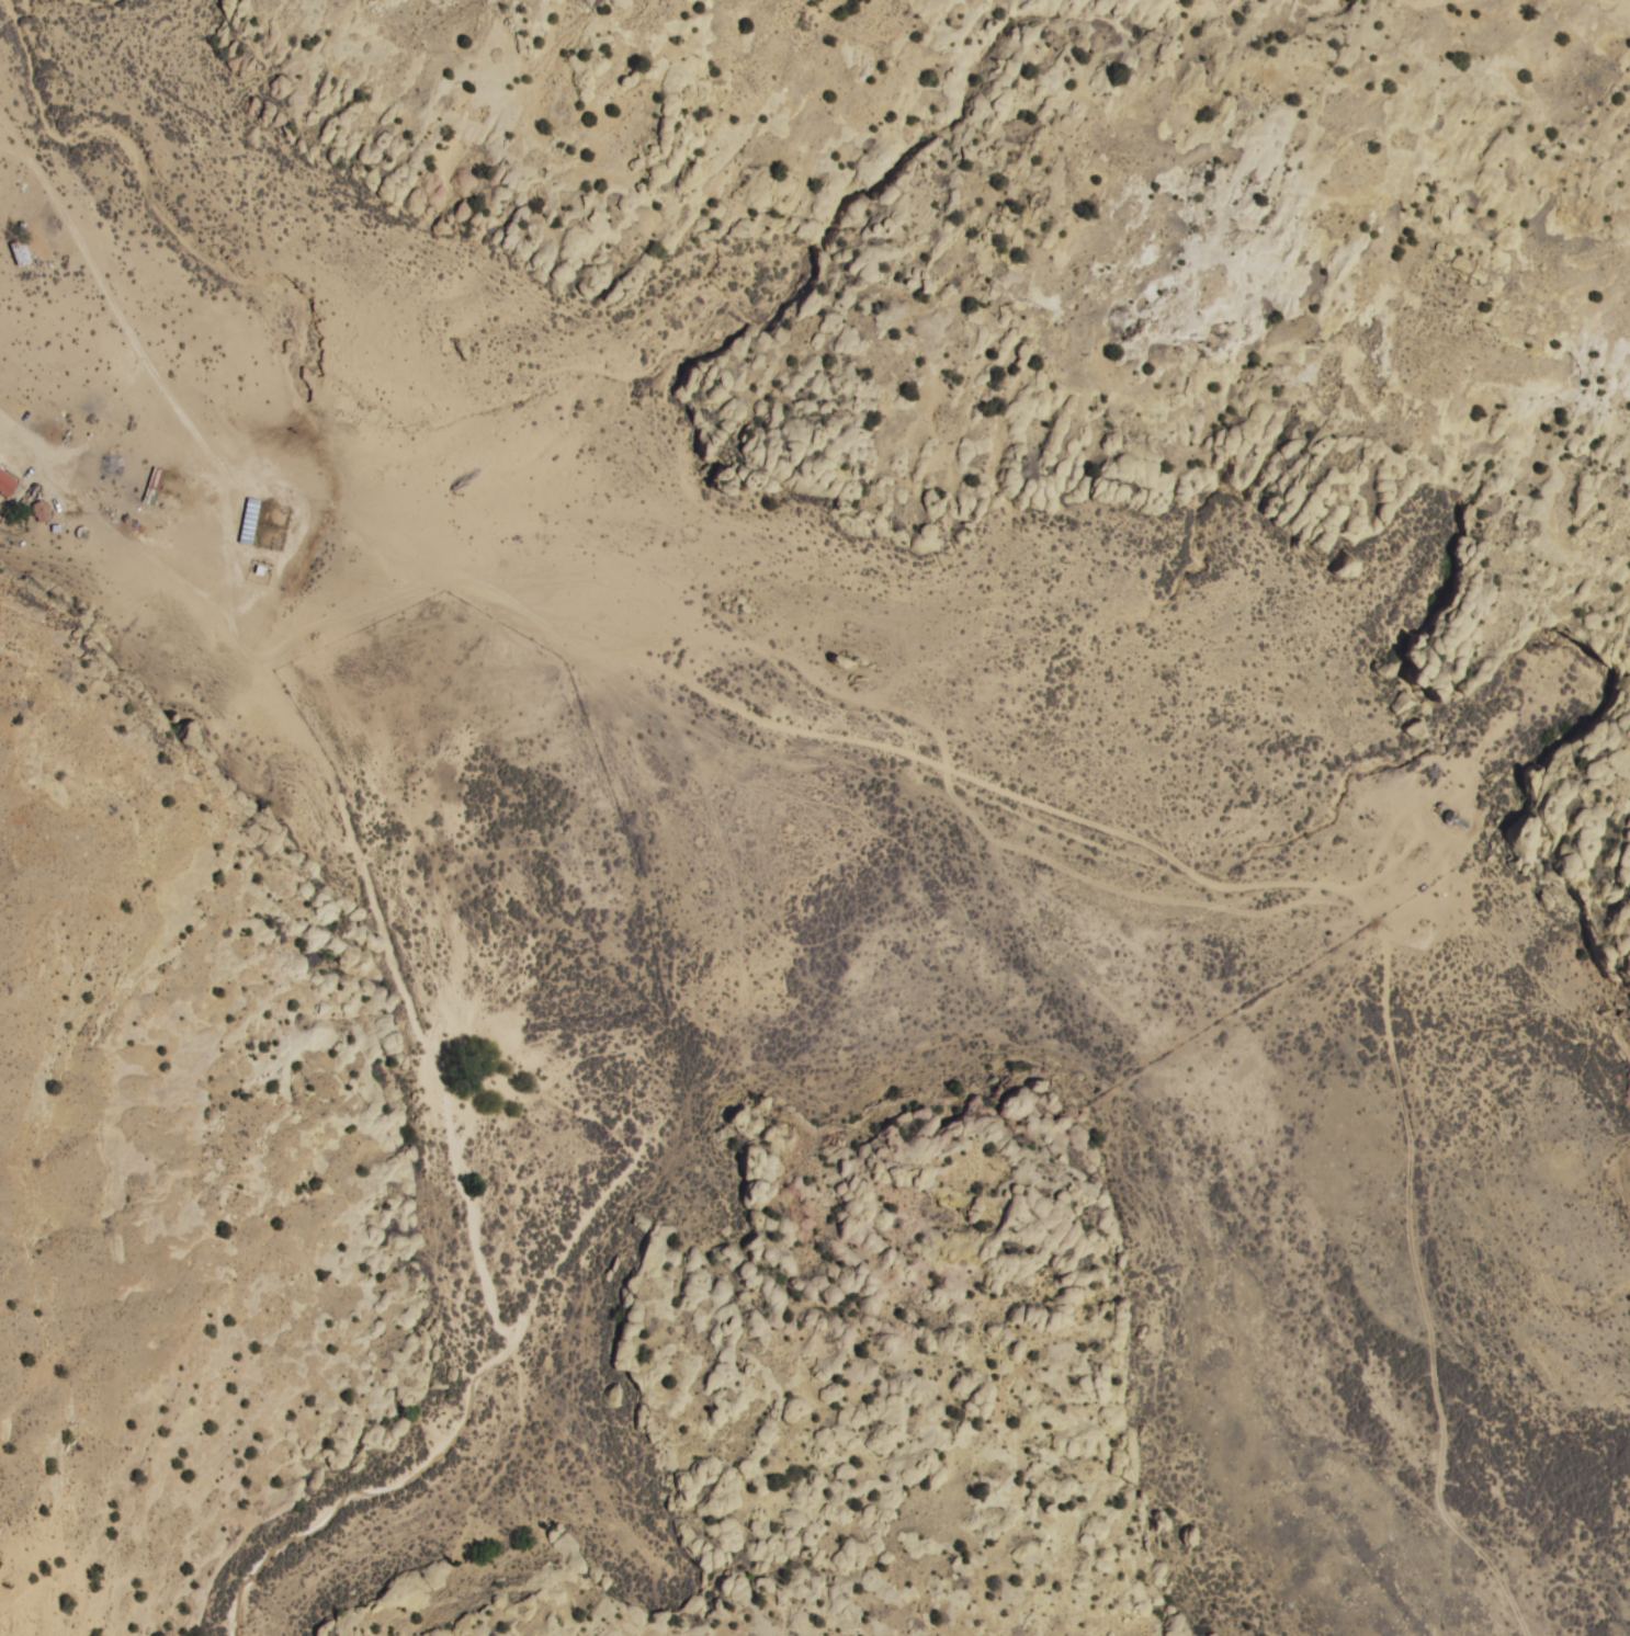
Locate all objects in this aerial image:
road: (1430, 109)
building: (5, 486)
building: (152, 487)
building: (247, 521)
road: (926, 770)
river: (857, 771)
road: (712, 1110)

